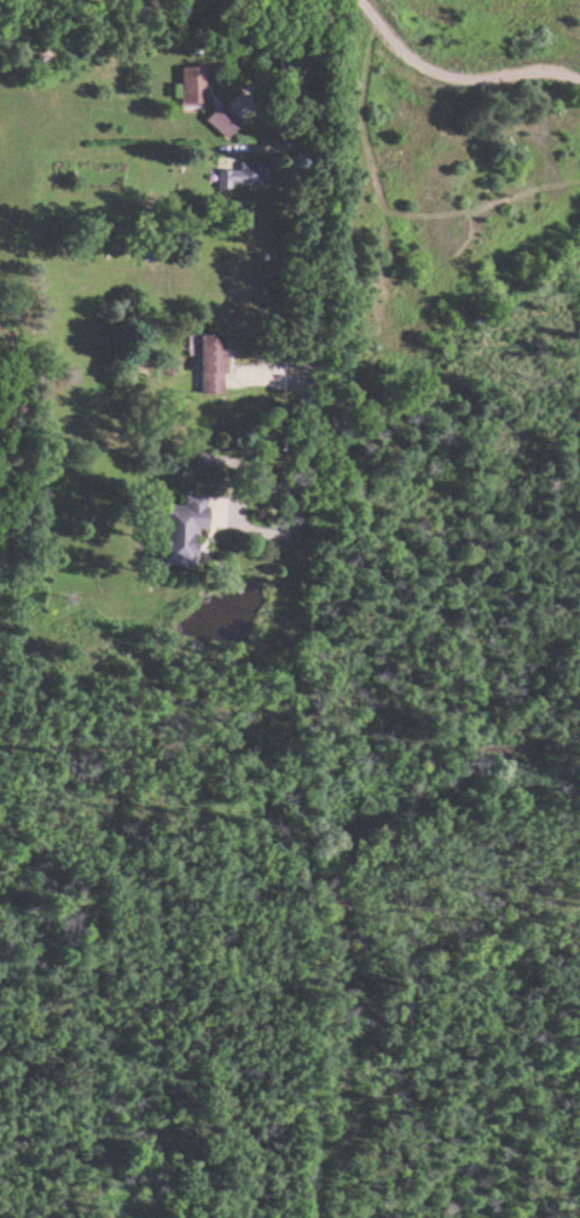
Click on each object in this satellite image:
road: (454, 76)
building: (187, 83)
building: (217, 118)
building: (236, 174)
road: (301, 216)
building: (207, 362)
building: (175, 528)

